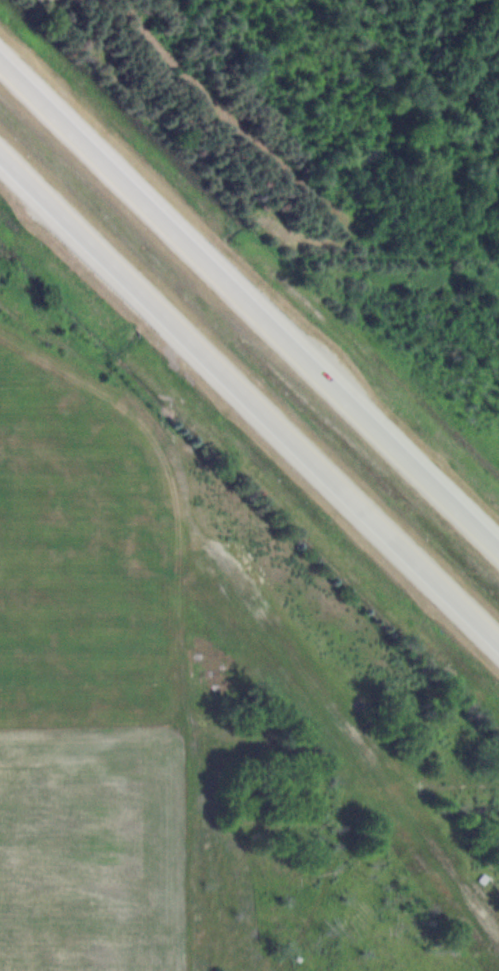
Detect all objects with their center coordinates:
road: (249, 304)
road: (249, 397)

